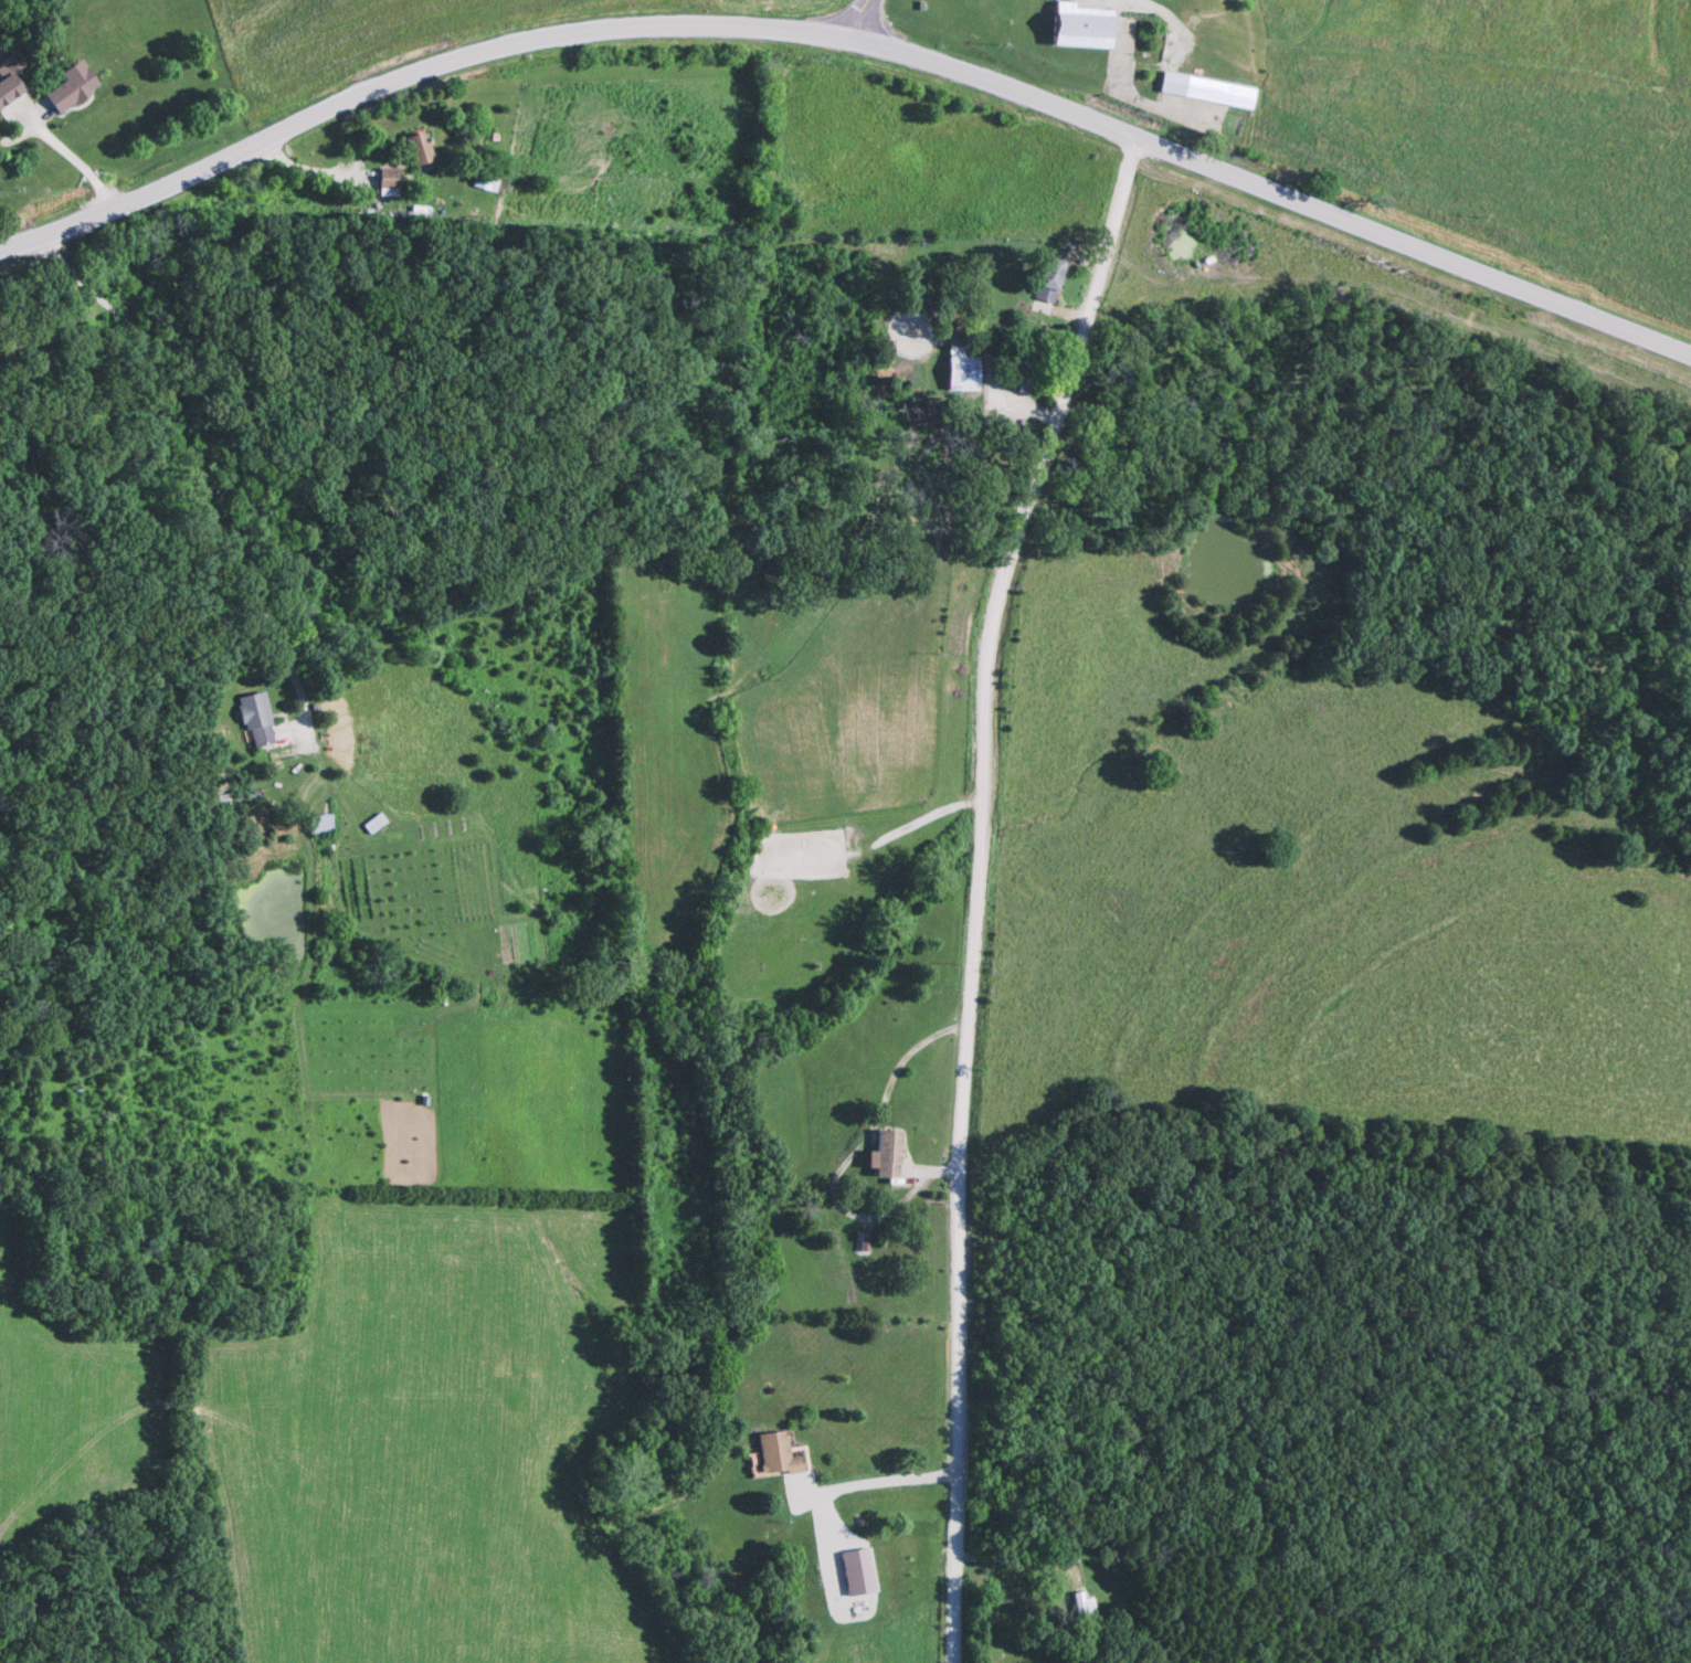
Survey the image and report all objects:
road: (858, 21)
building: (1069, 28)
road: (852, 42)
road: (1117, 85)
building: (76, 88)
building: (12, 91)
building: (1197, 92)
building: (425, 151)
road: (66, 158)
building: (490, 179)
building: (393, 183)
building: (1043, 282)
building: (957, 375)
road: (183, 469)
building: (260, 721)
building: (325, 825)
building: (378, 825)
road: (969, 889)
building: (666, 961)
building: (891, 1156)
building: (780, 1455)
road: (869, 1483)
building: (860, 1572)
building: (1078, 1607)

